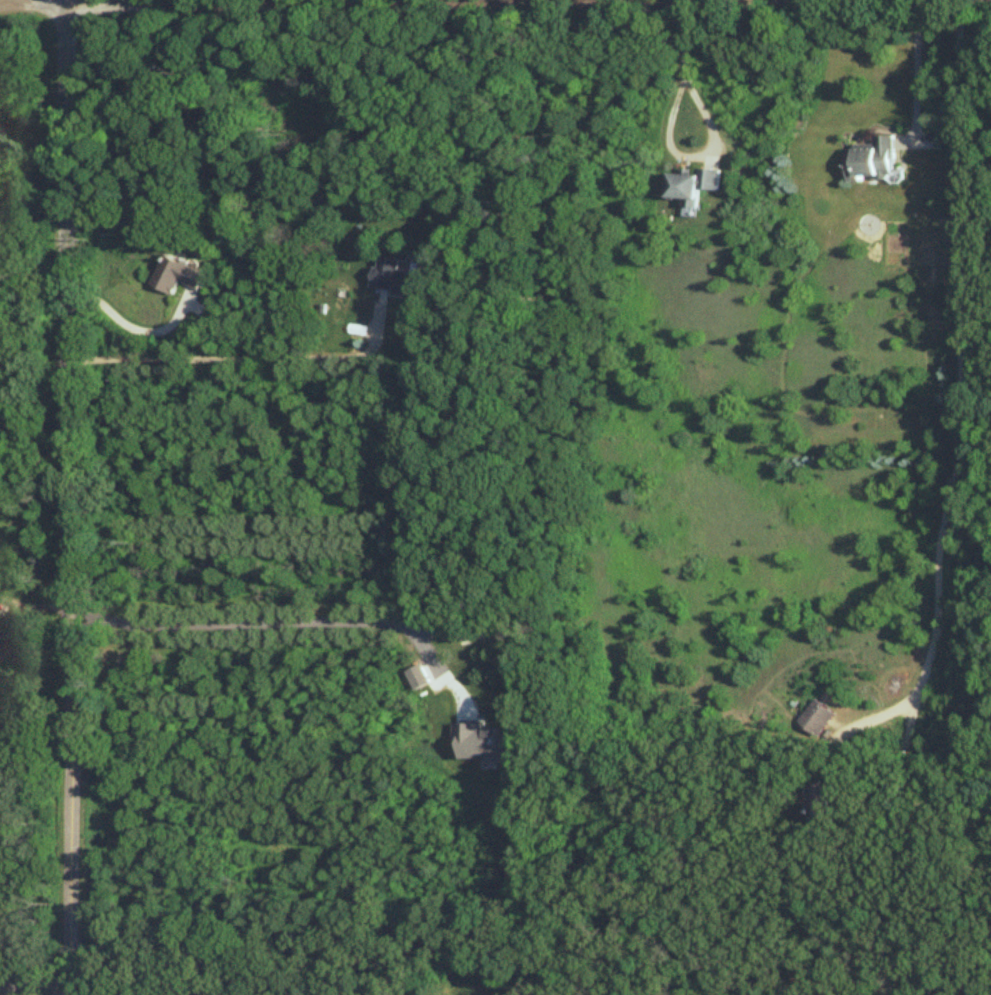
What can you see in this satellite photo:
road: (279, 4)
road: (680, 59)
road: (917, 69)
building: (872, 162)
building: (690, 188)
building: (177, 276)
building: (397, 279)
road: (129, 326)
road: (962, 356)
road: (247, 357)
road: (69, 497)
road: (274, 623)
building: (815, 717)
road: (846, 785)
building: (820, 801)
road: (811, 950)
road: (8, 979)
road: (45, 982)
road: (11, 987)

